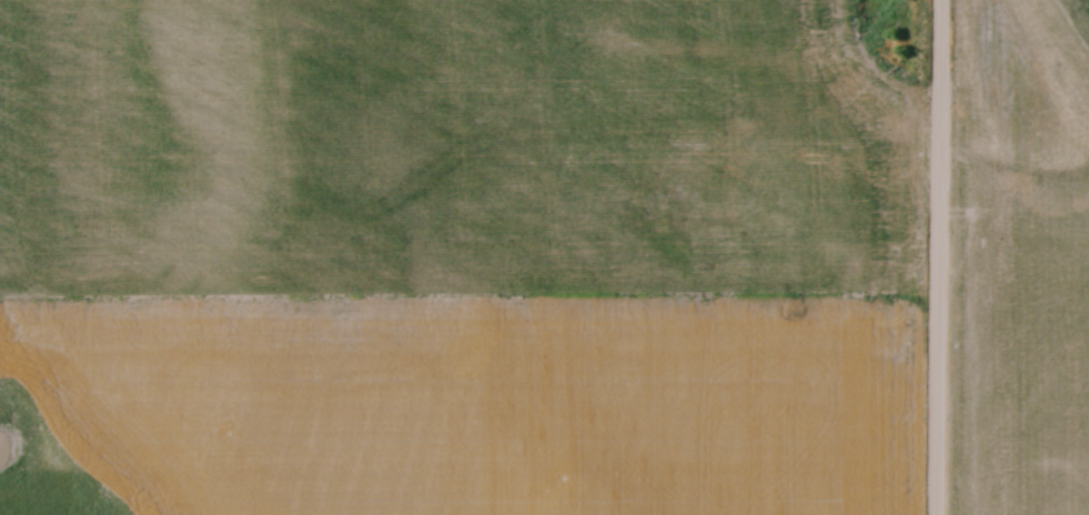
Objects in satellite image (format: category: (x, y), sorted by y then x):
road: (938, 256)

